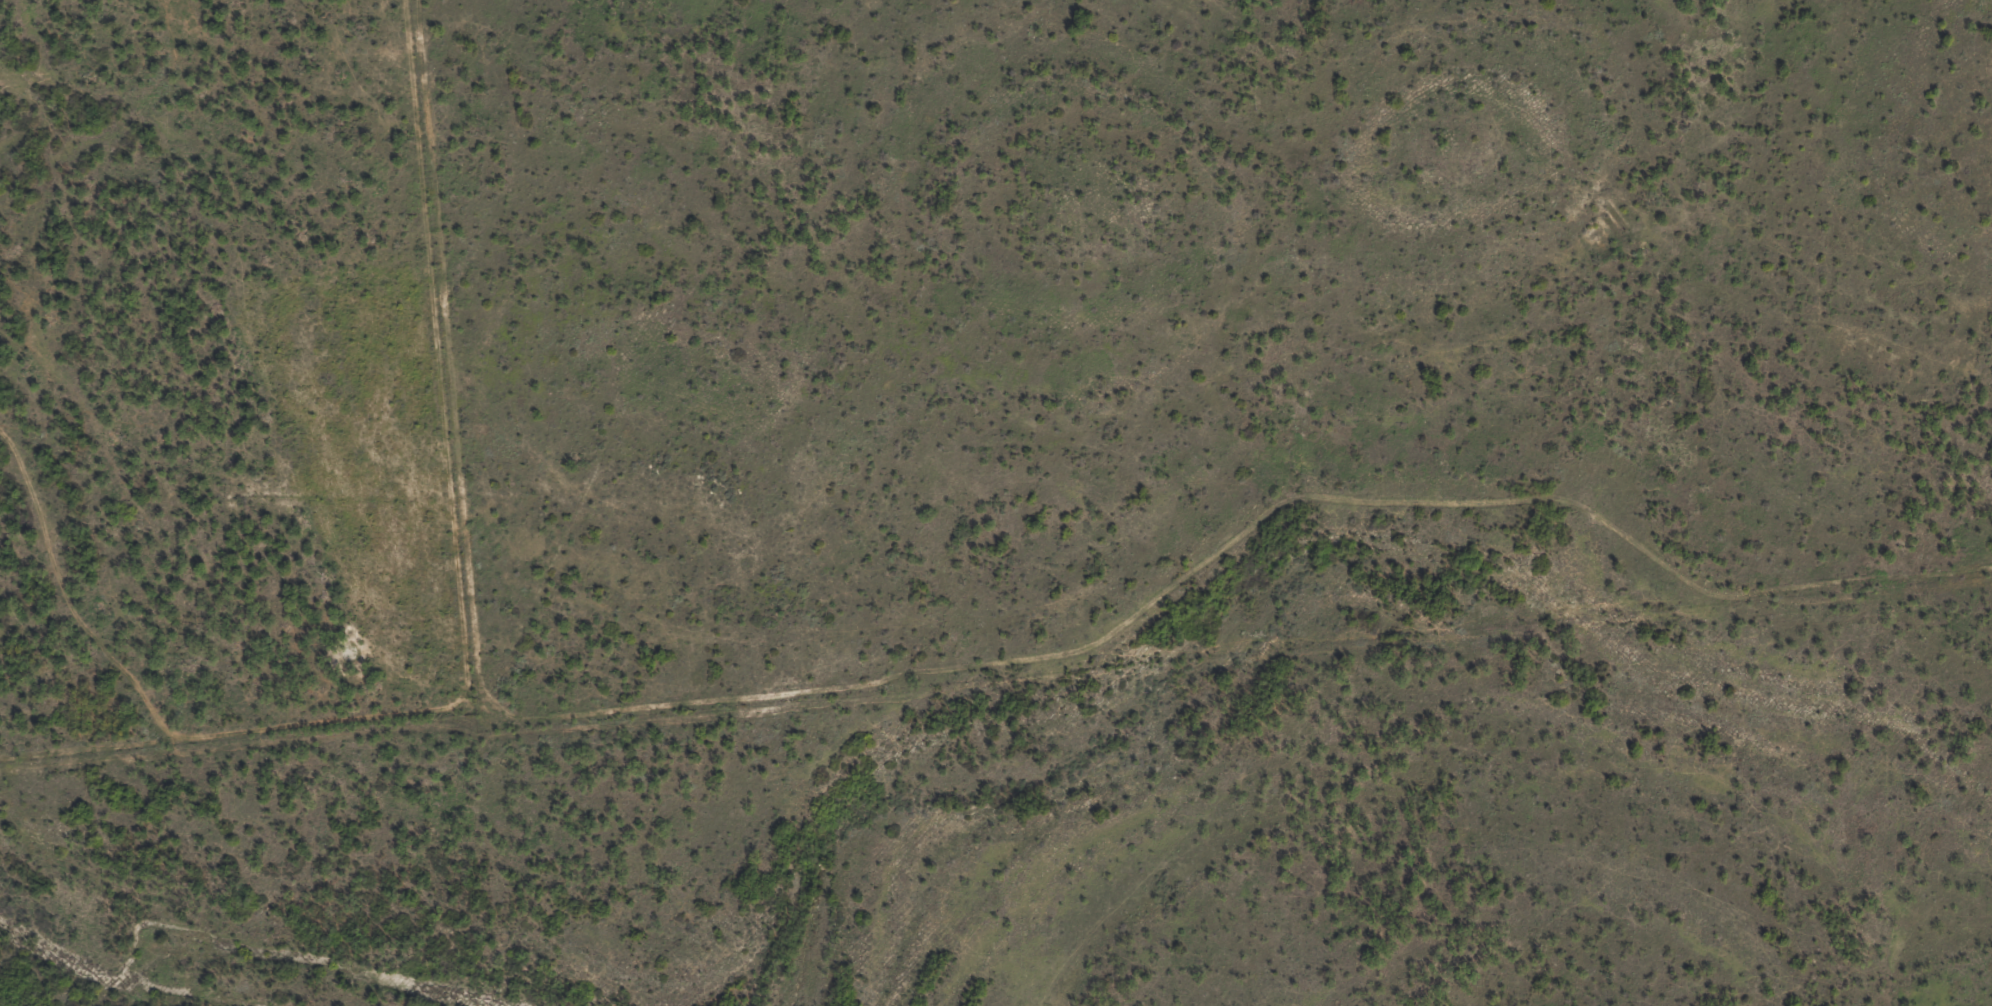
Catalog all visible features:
road: (1659, 232)

